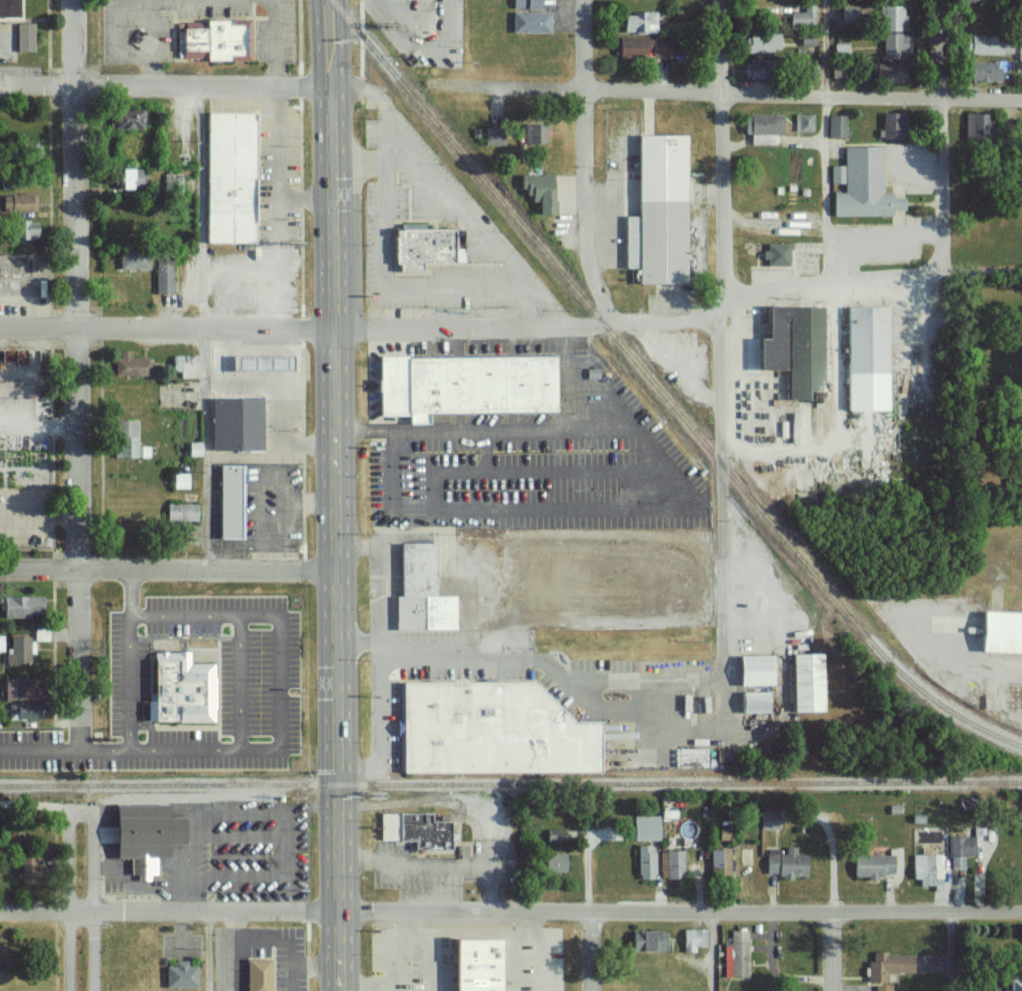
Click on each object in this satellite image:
building: (975, 0)
building: (524, 4)
building: (8, 8)
building: (849, 10)
building: (802, 15)
building: (892, 18)
building: (529, 22)
building: (637, 22)
building: (23, 36)
building: (217, 42)
building: (759, 42)
road: (422, 44)
building: (893, 45)
building: (987, 45)
building: (642, 48)
road: (822, 48)
building: (839, 49)
road: (318, 51)
building: (1019, 51)
building: (883, 70)
building: (751, 71)
building: (810, 71)
building: (837, 71)
building: (982, 71)
road: (172, 82)
road: (728, 94)
building: (126, 119)
building: (803, 122)
building: (760, 124)
building: (891, 125)
building: (836, 126)
building: (974, 128)
building: (533, 133)
road: (939, 136)
building: (493, 139)
building: (27, 150)
road: (585, 164)
road: (277, 165)
building: (228, 177)
building: (128, 178)
building: (173, 182)
building: (861, 183)
road: (823, 189)
building: (536, 191)
building: (18, 202)
building: (659, 211)
building: (23, 230)
building: (422, 249)
building: (775, 254)
building: (133, 259)
building: (163, 271)
road: (277, 289)
road: (514, 324)
railway: (609, 330)
road: (472, 340)
building: (778, 341)
building: (871, 341)
building: (810, 354)
road: (720, 361)
building: (258, 363)
building: (128, 364)
building: (184, 365)
road: (79, 375)
building: (468, 386)
road: (568, 386)
building: (871, 394)
building: (239, 423)
road: (377, 428)
building: (794, 431)
road: (406, 432)
road: (523, 433)
road: (377, 436)
building: (126, 440)
building: (194, 448)
road: (206, 449)
road: (650, 451)
road: (265, 456)
road: (548, 472)
road: (394, 478)
building: (181, 480)
road: (349, 495)
road: (435, 497)
building: (229, 501)
road: (574, 509)
road: (441, 510)
building: (180, 511)
road: (40, 516)
road: (416, 521)
road: (321, 547)
road: (174, 571)
building: (420, 591)
road: (132, 593)
building: (20, 607)
road: (209, 615)
building: (1000, 632)
building: (2, 642)
building: (19, 650)
road: (546, 663)
building: (752, 670)
road: (284, 682)
building: (805, 682)
road: (241, 683)
building: (16, 689)
building: (186, 690)
building: (752, 702)
railway: (949, 709)
building: (20, 711)
road: (383, 717)
building: (496, 729)
road: (142, 751)
road: (83, 811)
building: (767, 823)
building: (646, 827)
building: (417, 830)
building: (723, 833)
building: (554, 835)
building: (960, 850)
building: (223, 852)
building: (645, 860)
building: (719, 860)
building: (553, 862)
building: (785, 862)
building: (143, 863)
building: (671, 863)
building: (871, 865)
building: (926, 868)
building: (30, 871)
road: (70, 900)
road: (95, 901)
road: (589, 902)
road: (834, 907)
road: (511, 912)
building: (693, 938)
building: (646, 939)
road: (210, 951)
road: (715, 951)
road: (953, 951)
building: (736, 954)
building: (481, 965)
building: (887, 965)
building: (182, 975)
building: (260, 975)
building: (1012, 984)
building: (882, 987)

